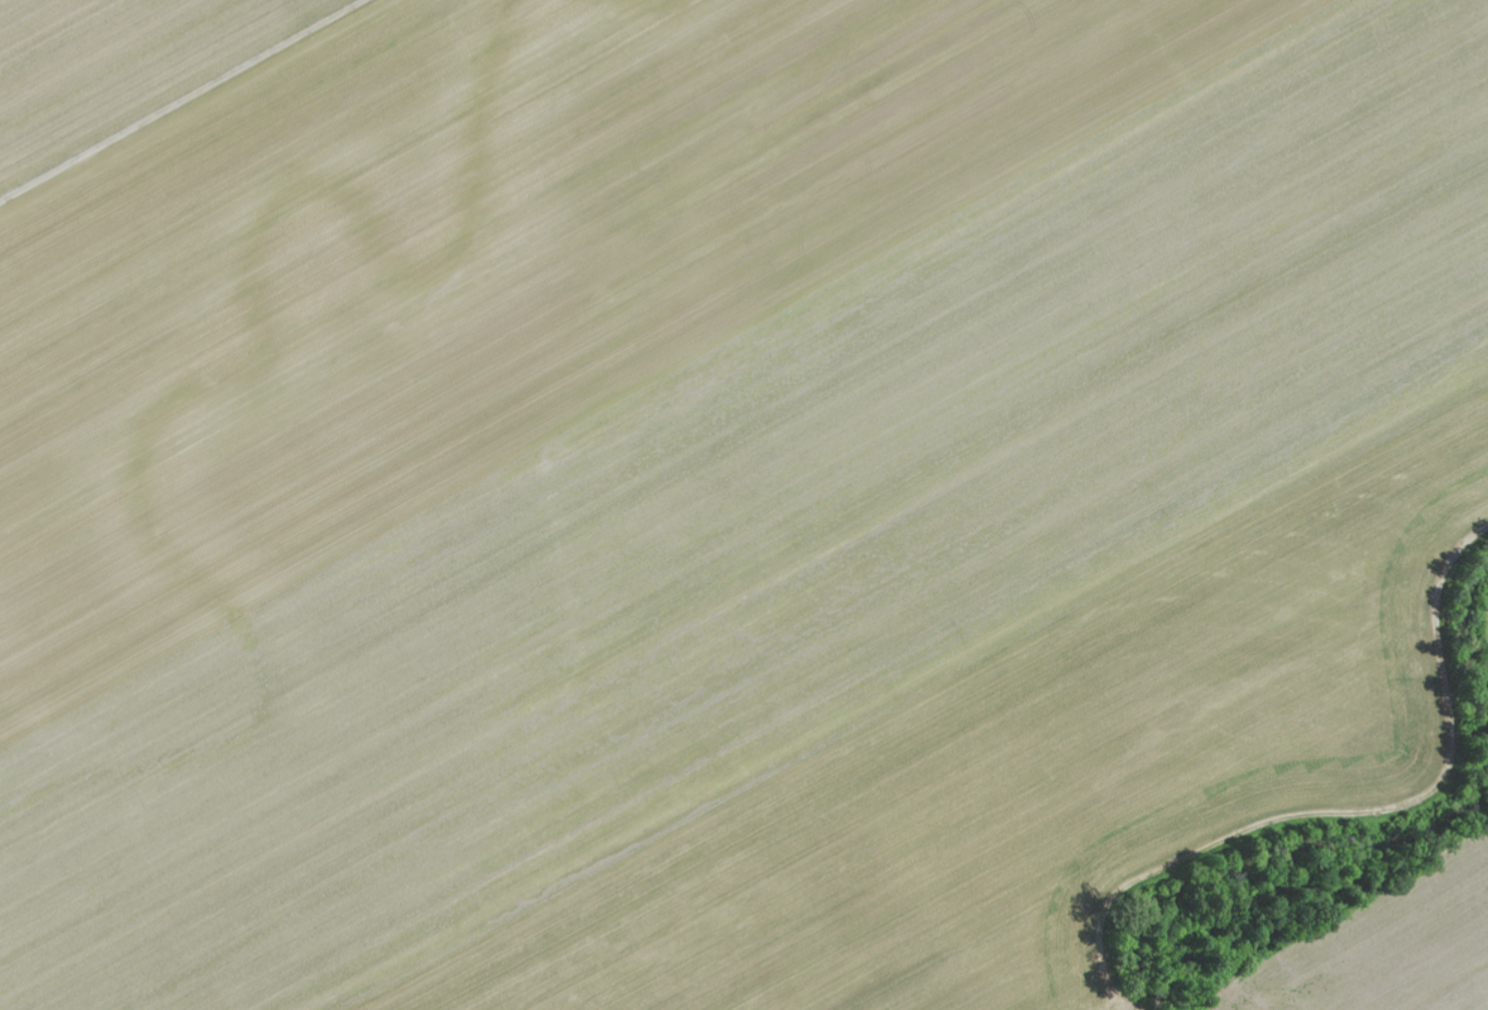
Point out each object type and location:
road: (1438, 641)

